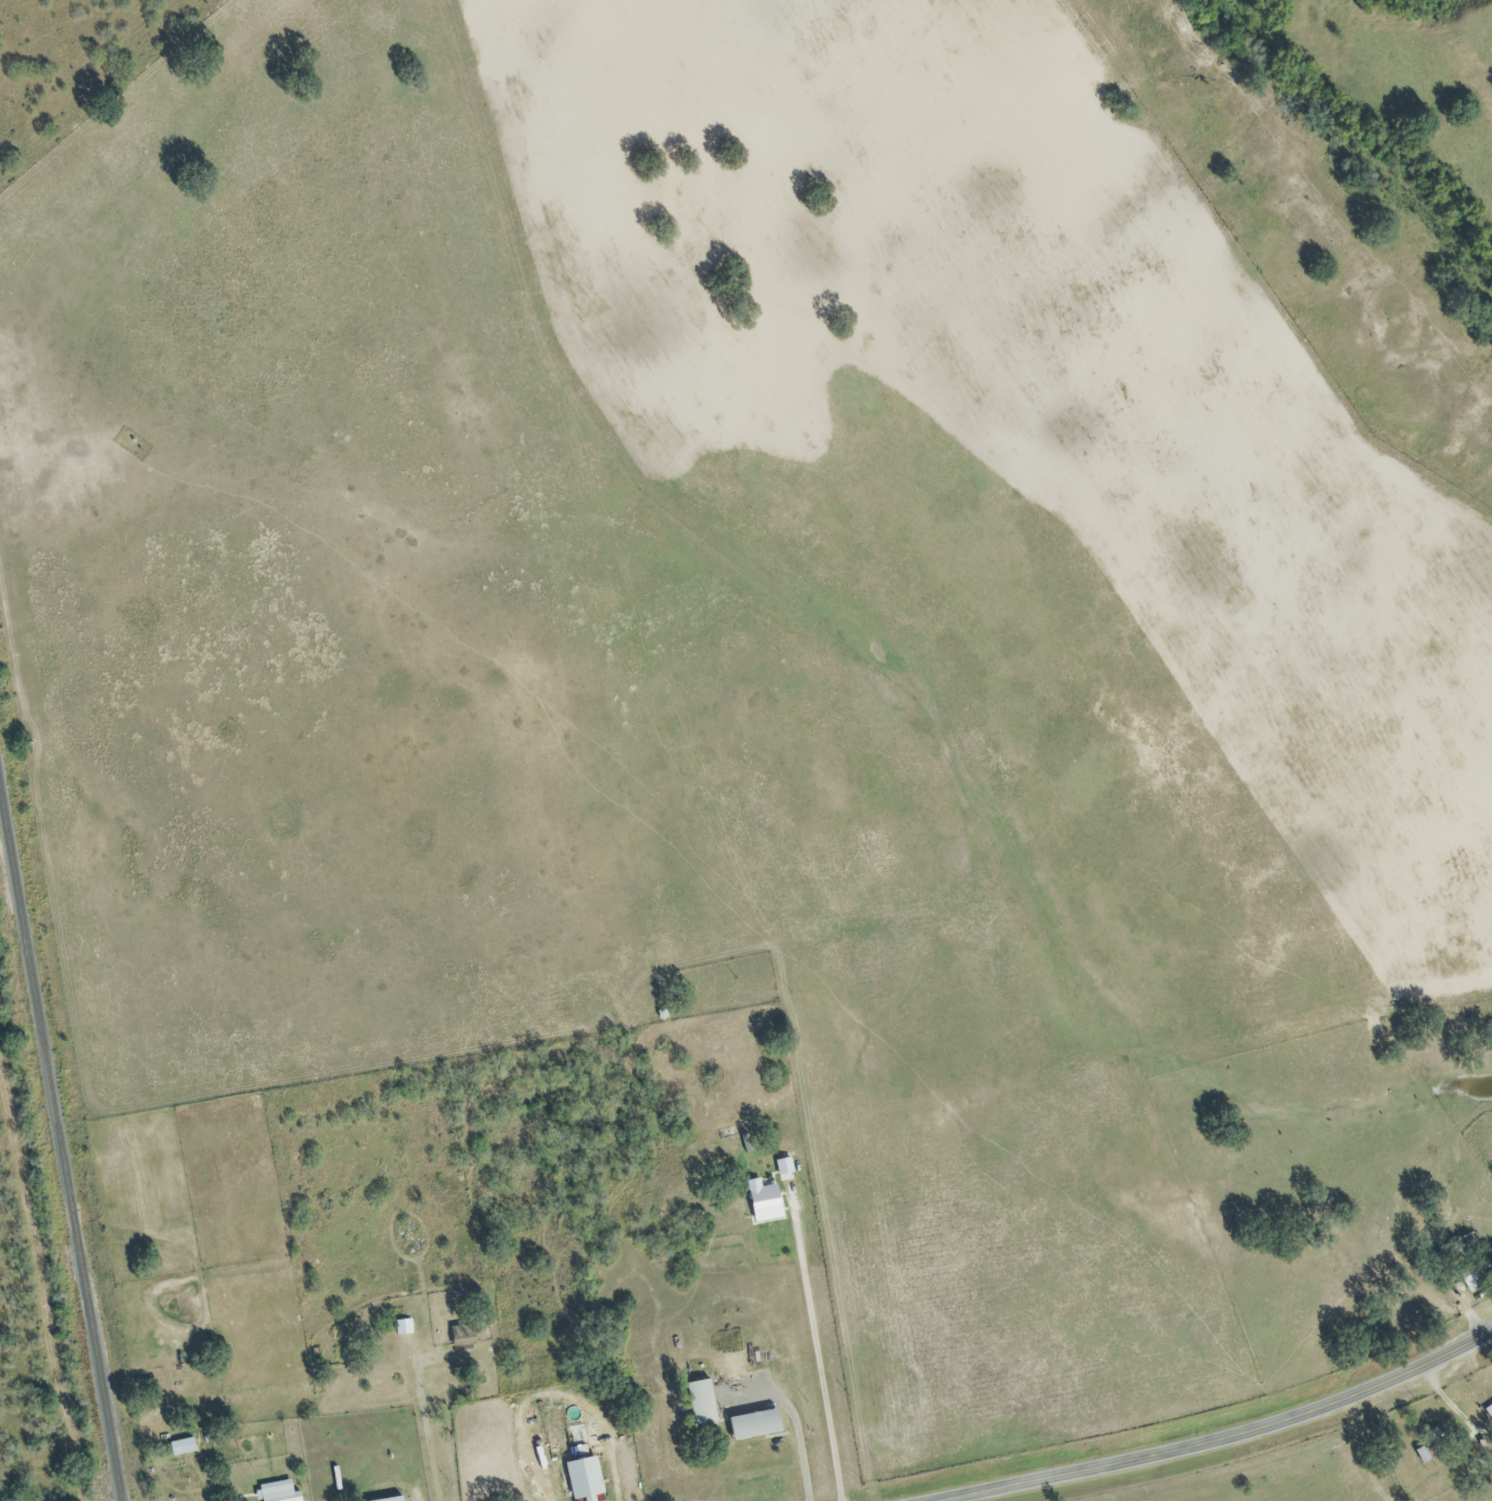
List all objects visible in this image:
river: (1345, 118)
railway: (59, 1153)
building: (783, 1170)
building: (761, 1203)
building: (1465, 1262)
building: (401, 1327)
building: (461, 1336)
road: (817, 1348)
building: (699, 1402)
road: (1450, 1402)
building: (1488, 1412)
building: (752, 1425)
road: (1226, 1436)
building: (180, 1448)
building: (583, 1480)
building: (276, 1492)
building: (390, 1499)

